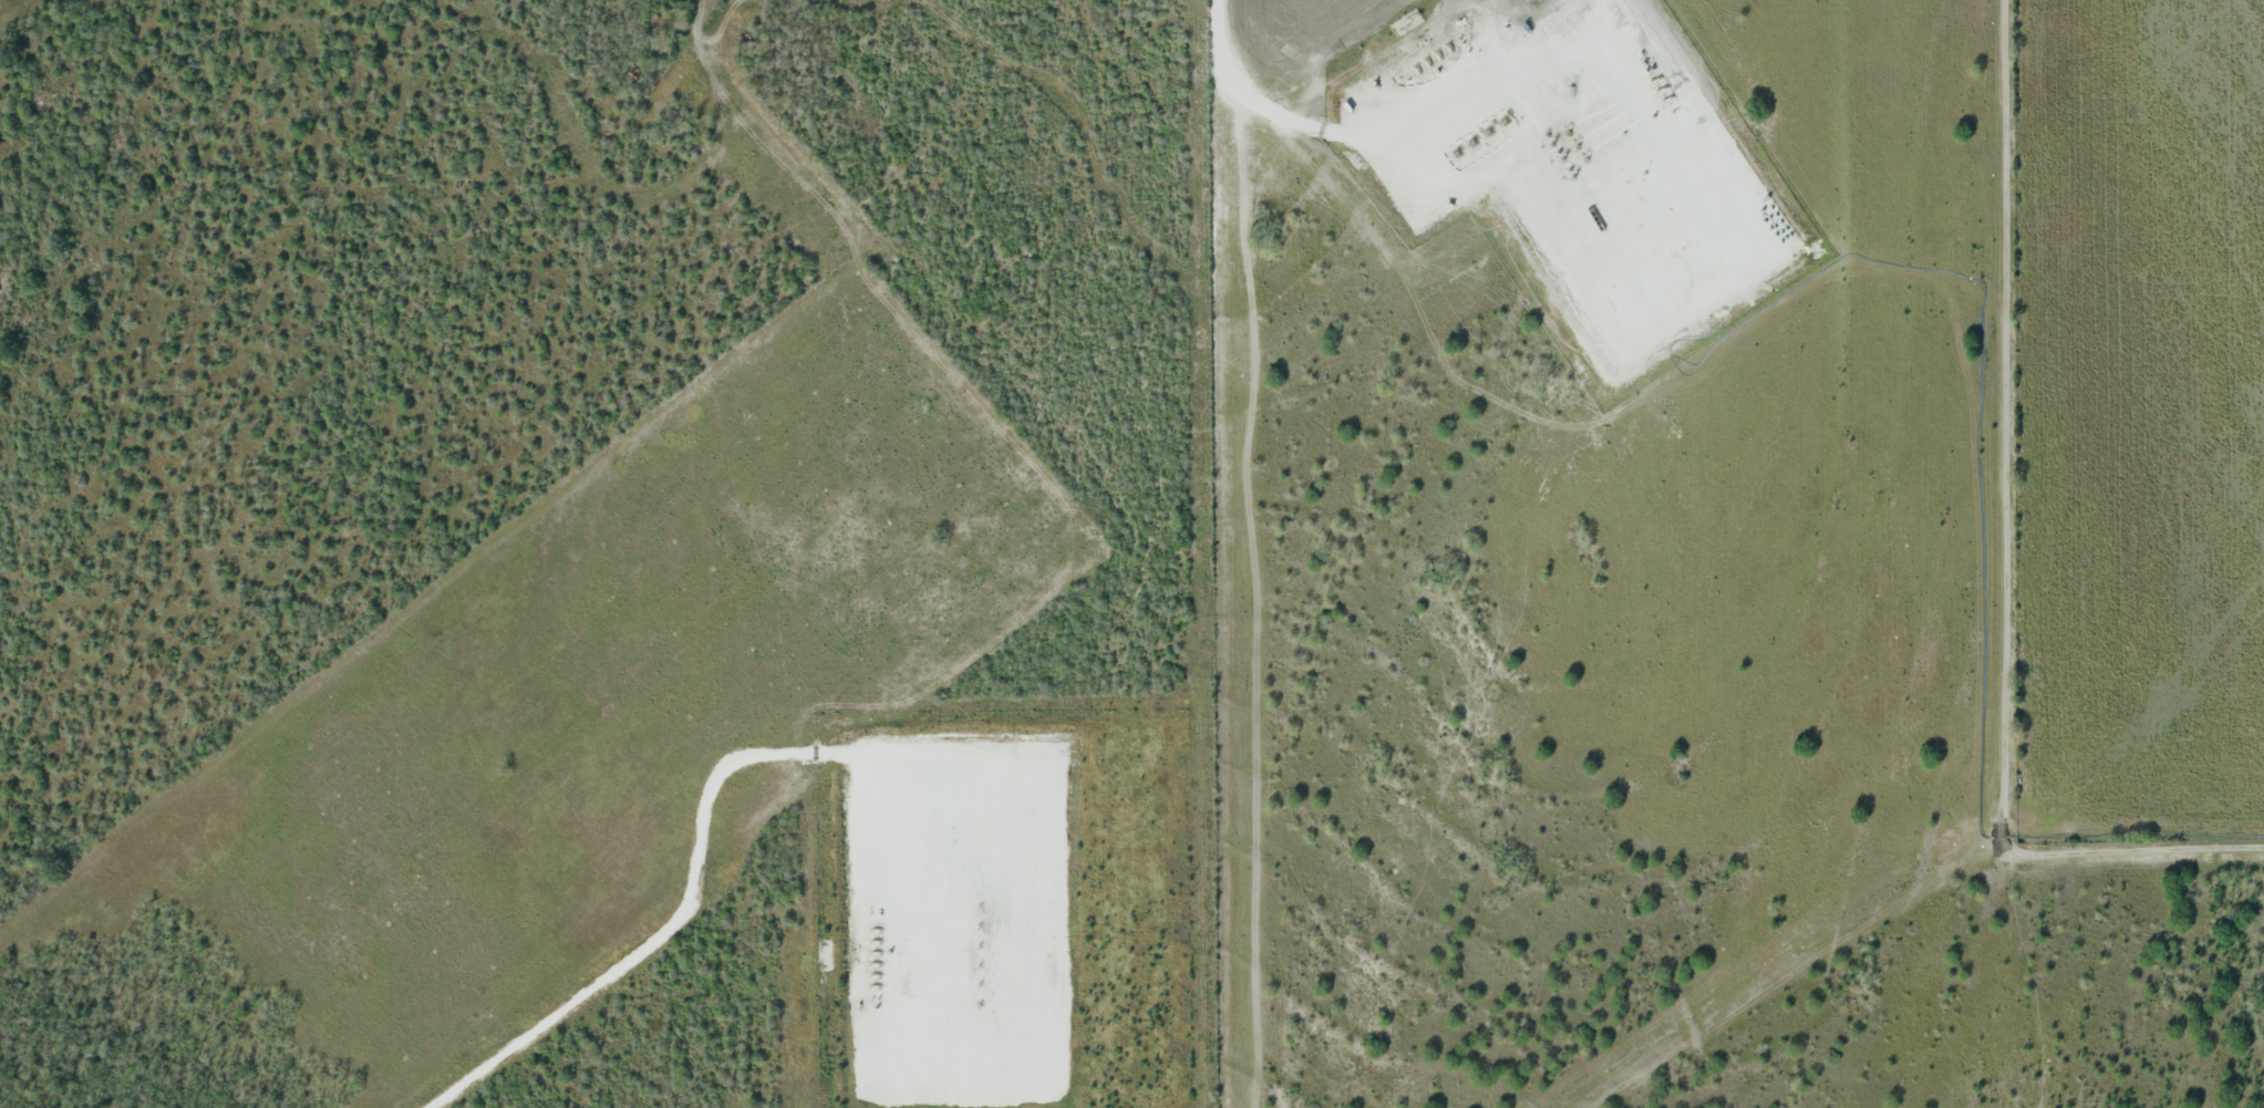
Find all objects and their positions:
road: (1634, 72)
road: (1250, 93)
road: (2004, 555)
road: (712, 852)

